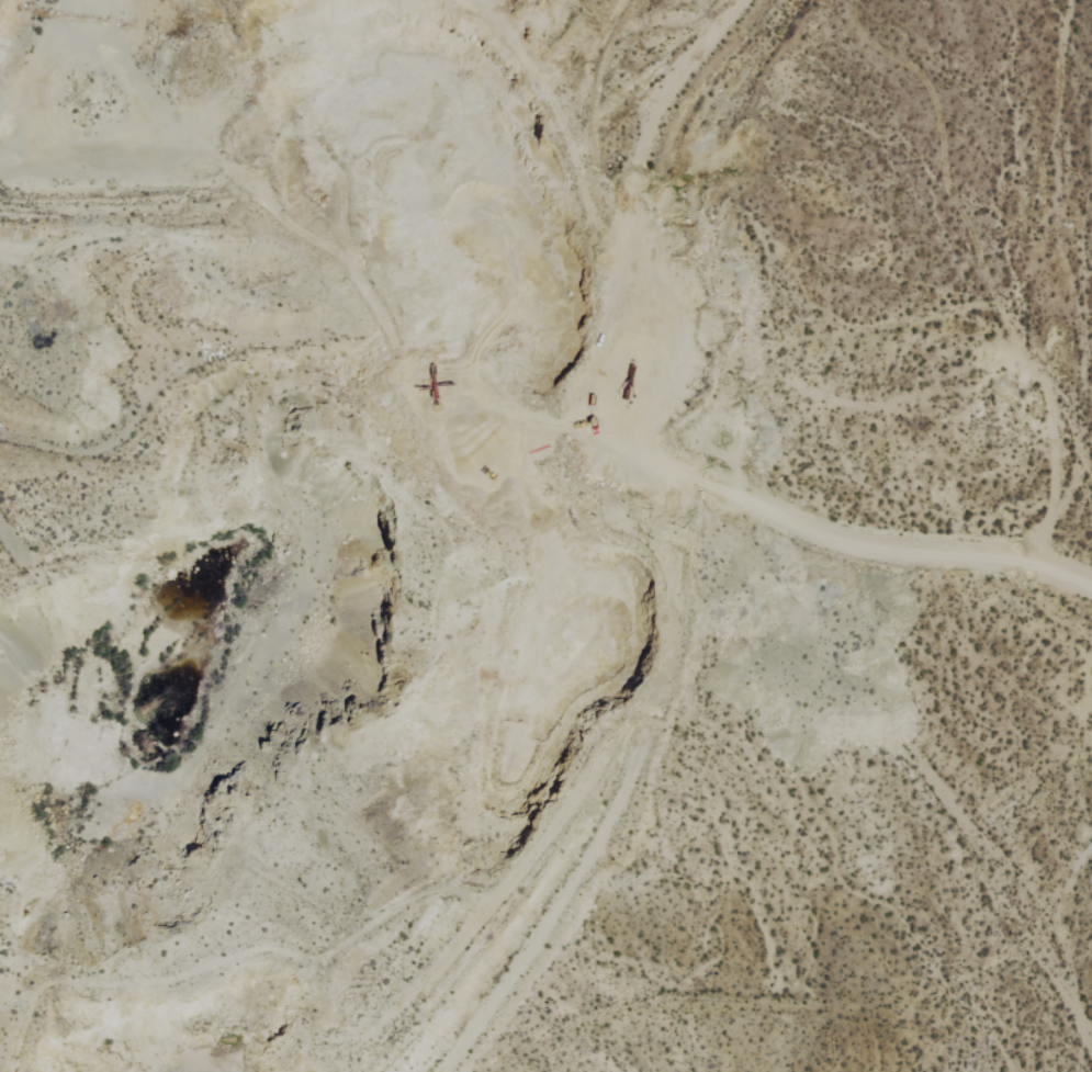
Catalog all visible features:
road: (844, 538)

